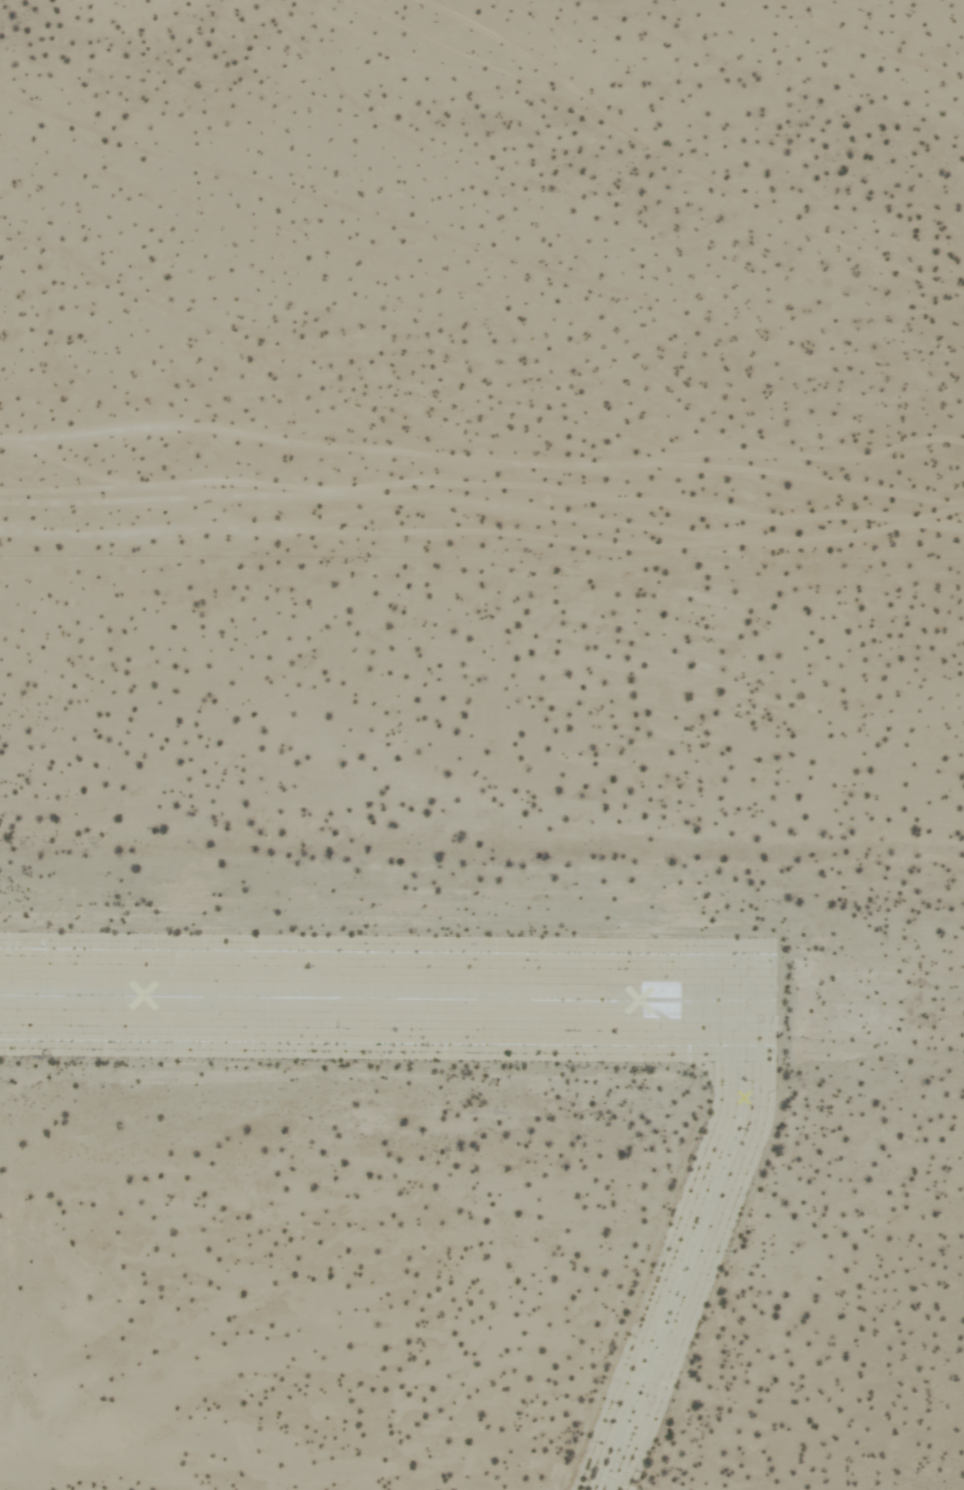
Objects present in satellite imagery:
airport runway: (386, 995)

